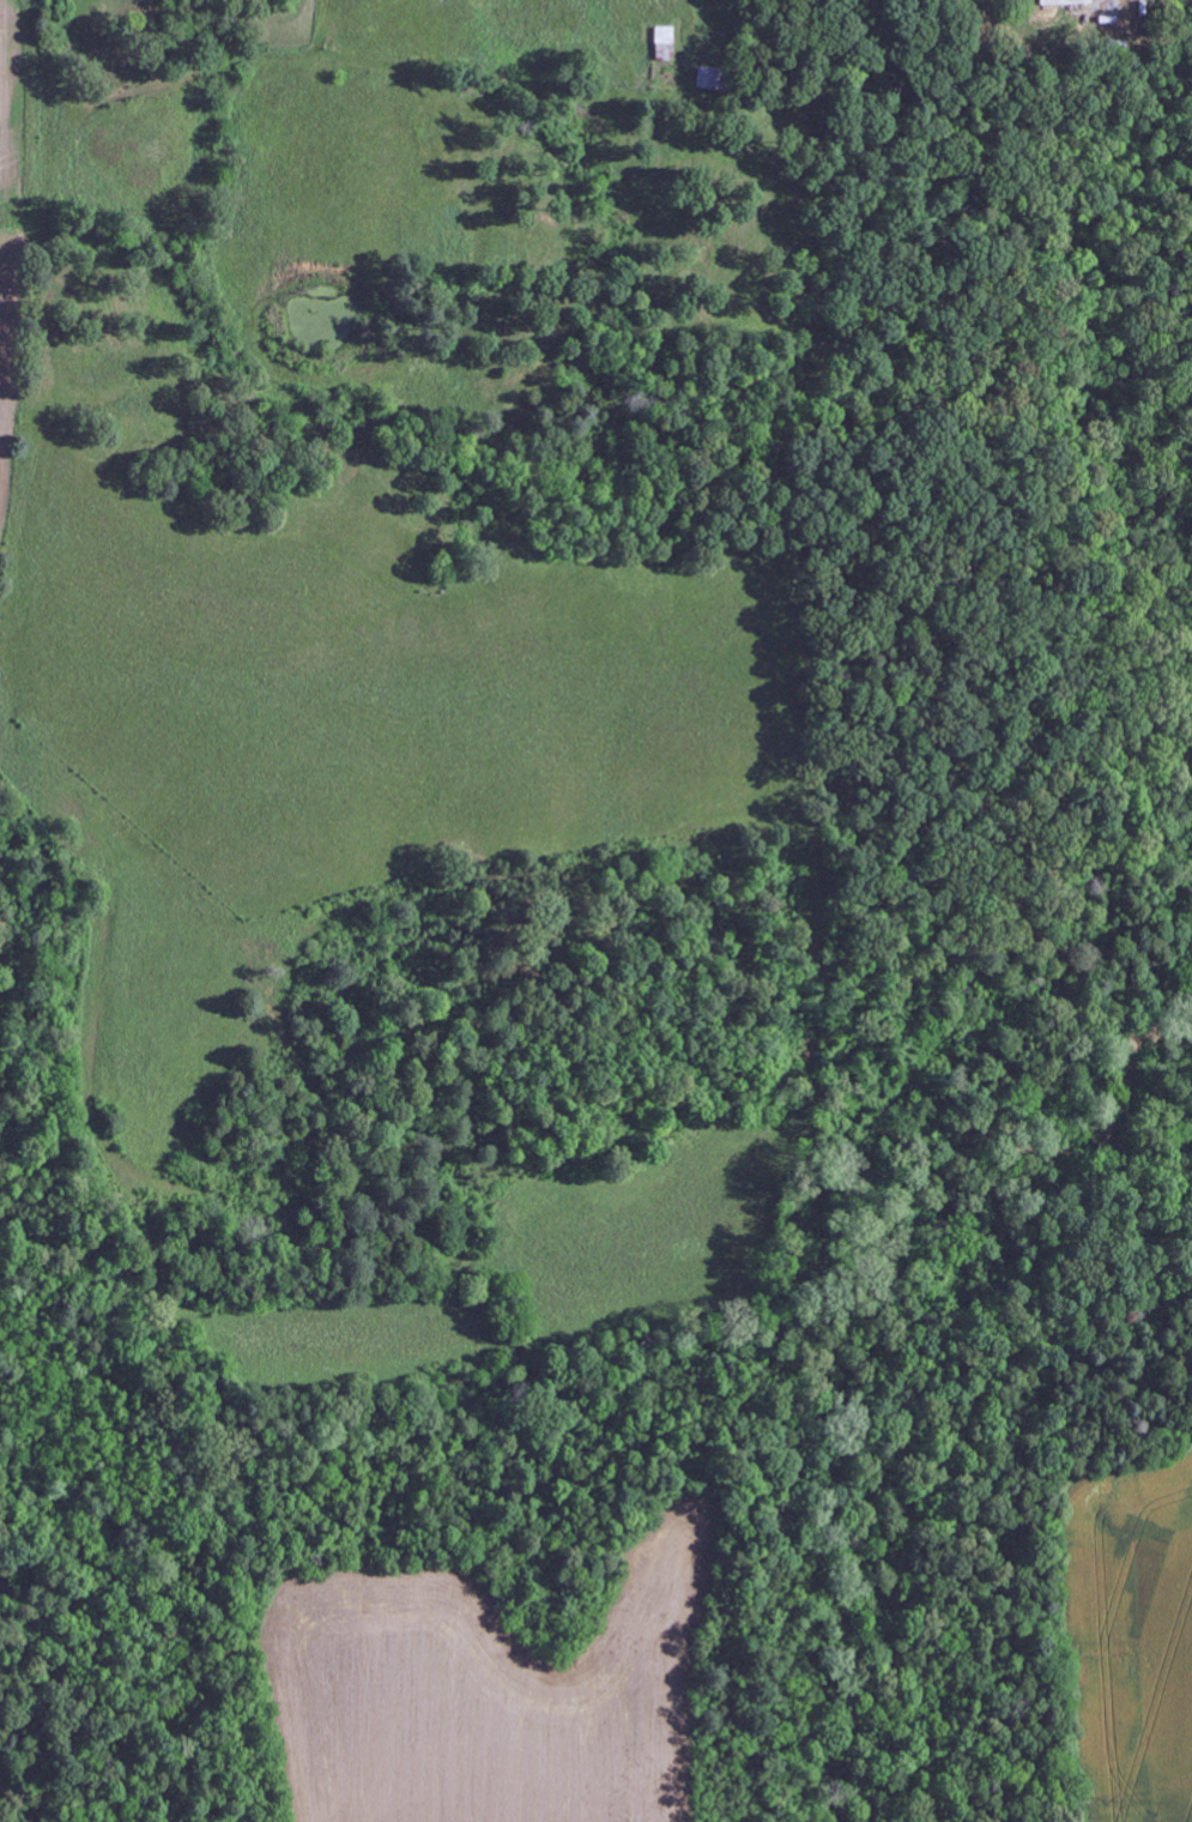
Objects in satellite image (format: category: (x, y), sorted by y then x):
building: (1063, 2)
building: (702, 78)

